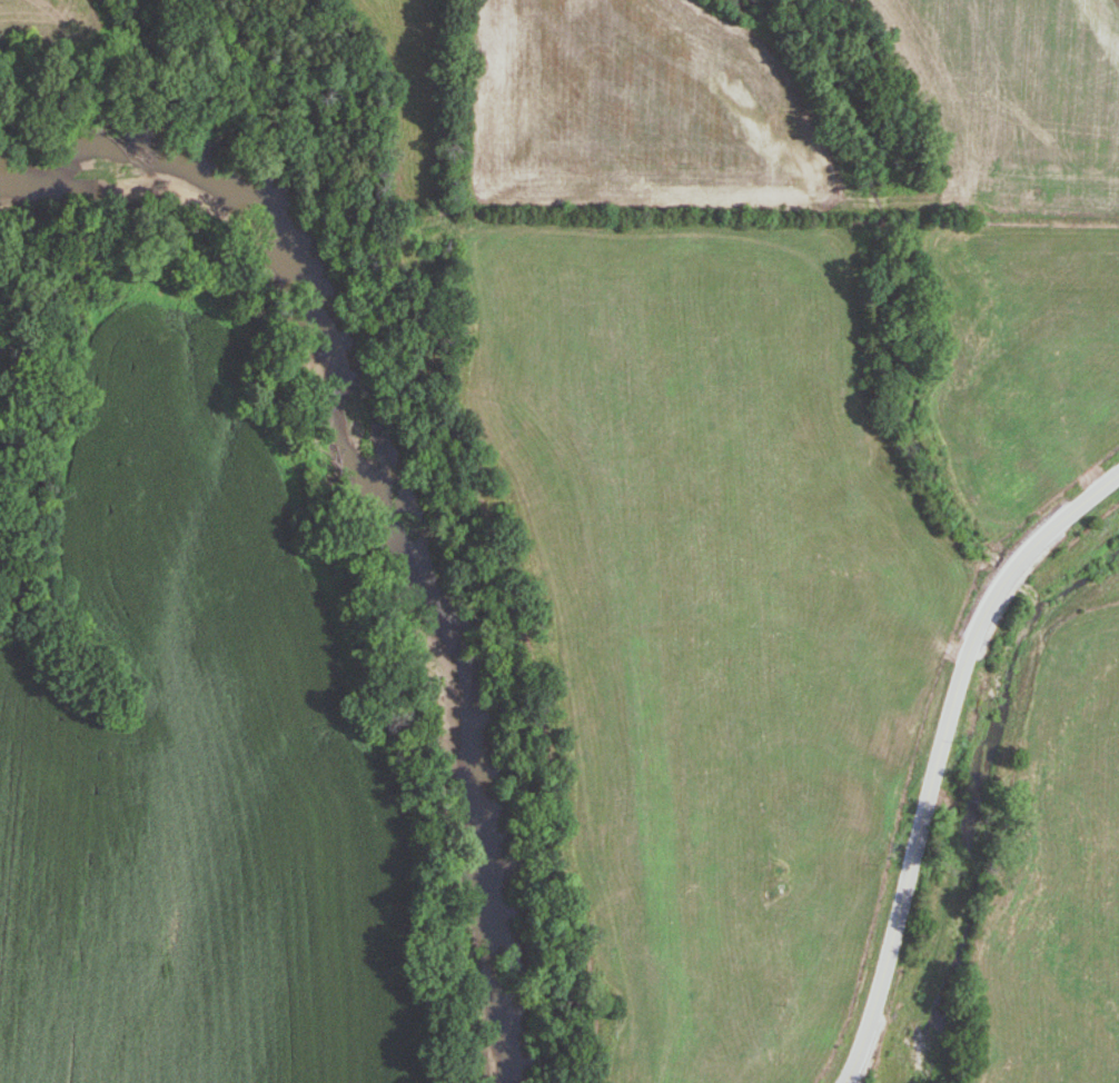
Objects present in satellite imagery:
river: (386, 500)
road: (939, 753)

